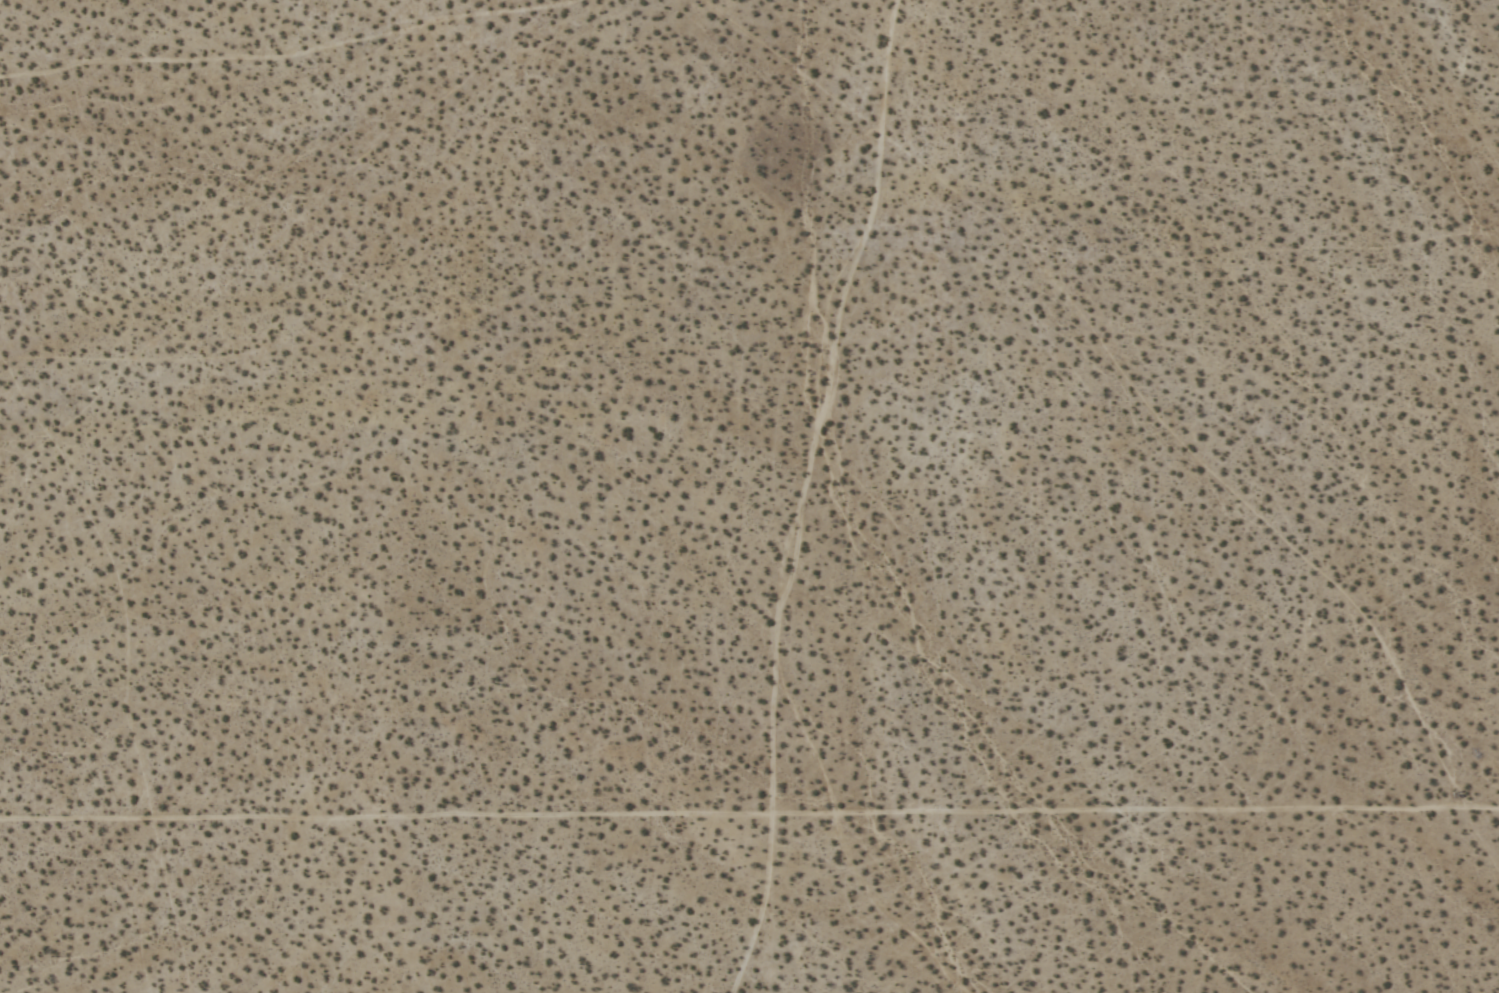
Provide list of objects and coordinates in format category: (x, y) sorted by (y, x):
crop: (749, 496)

